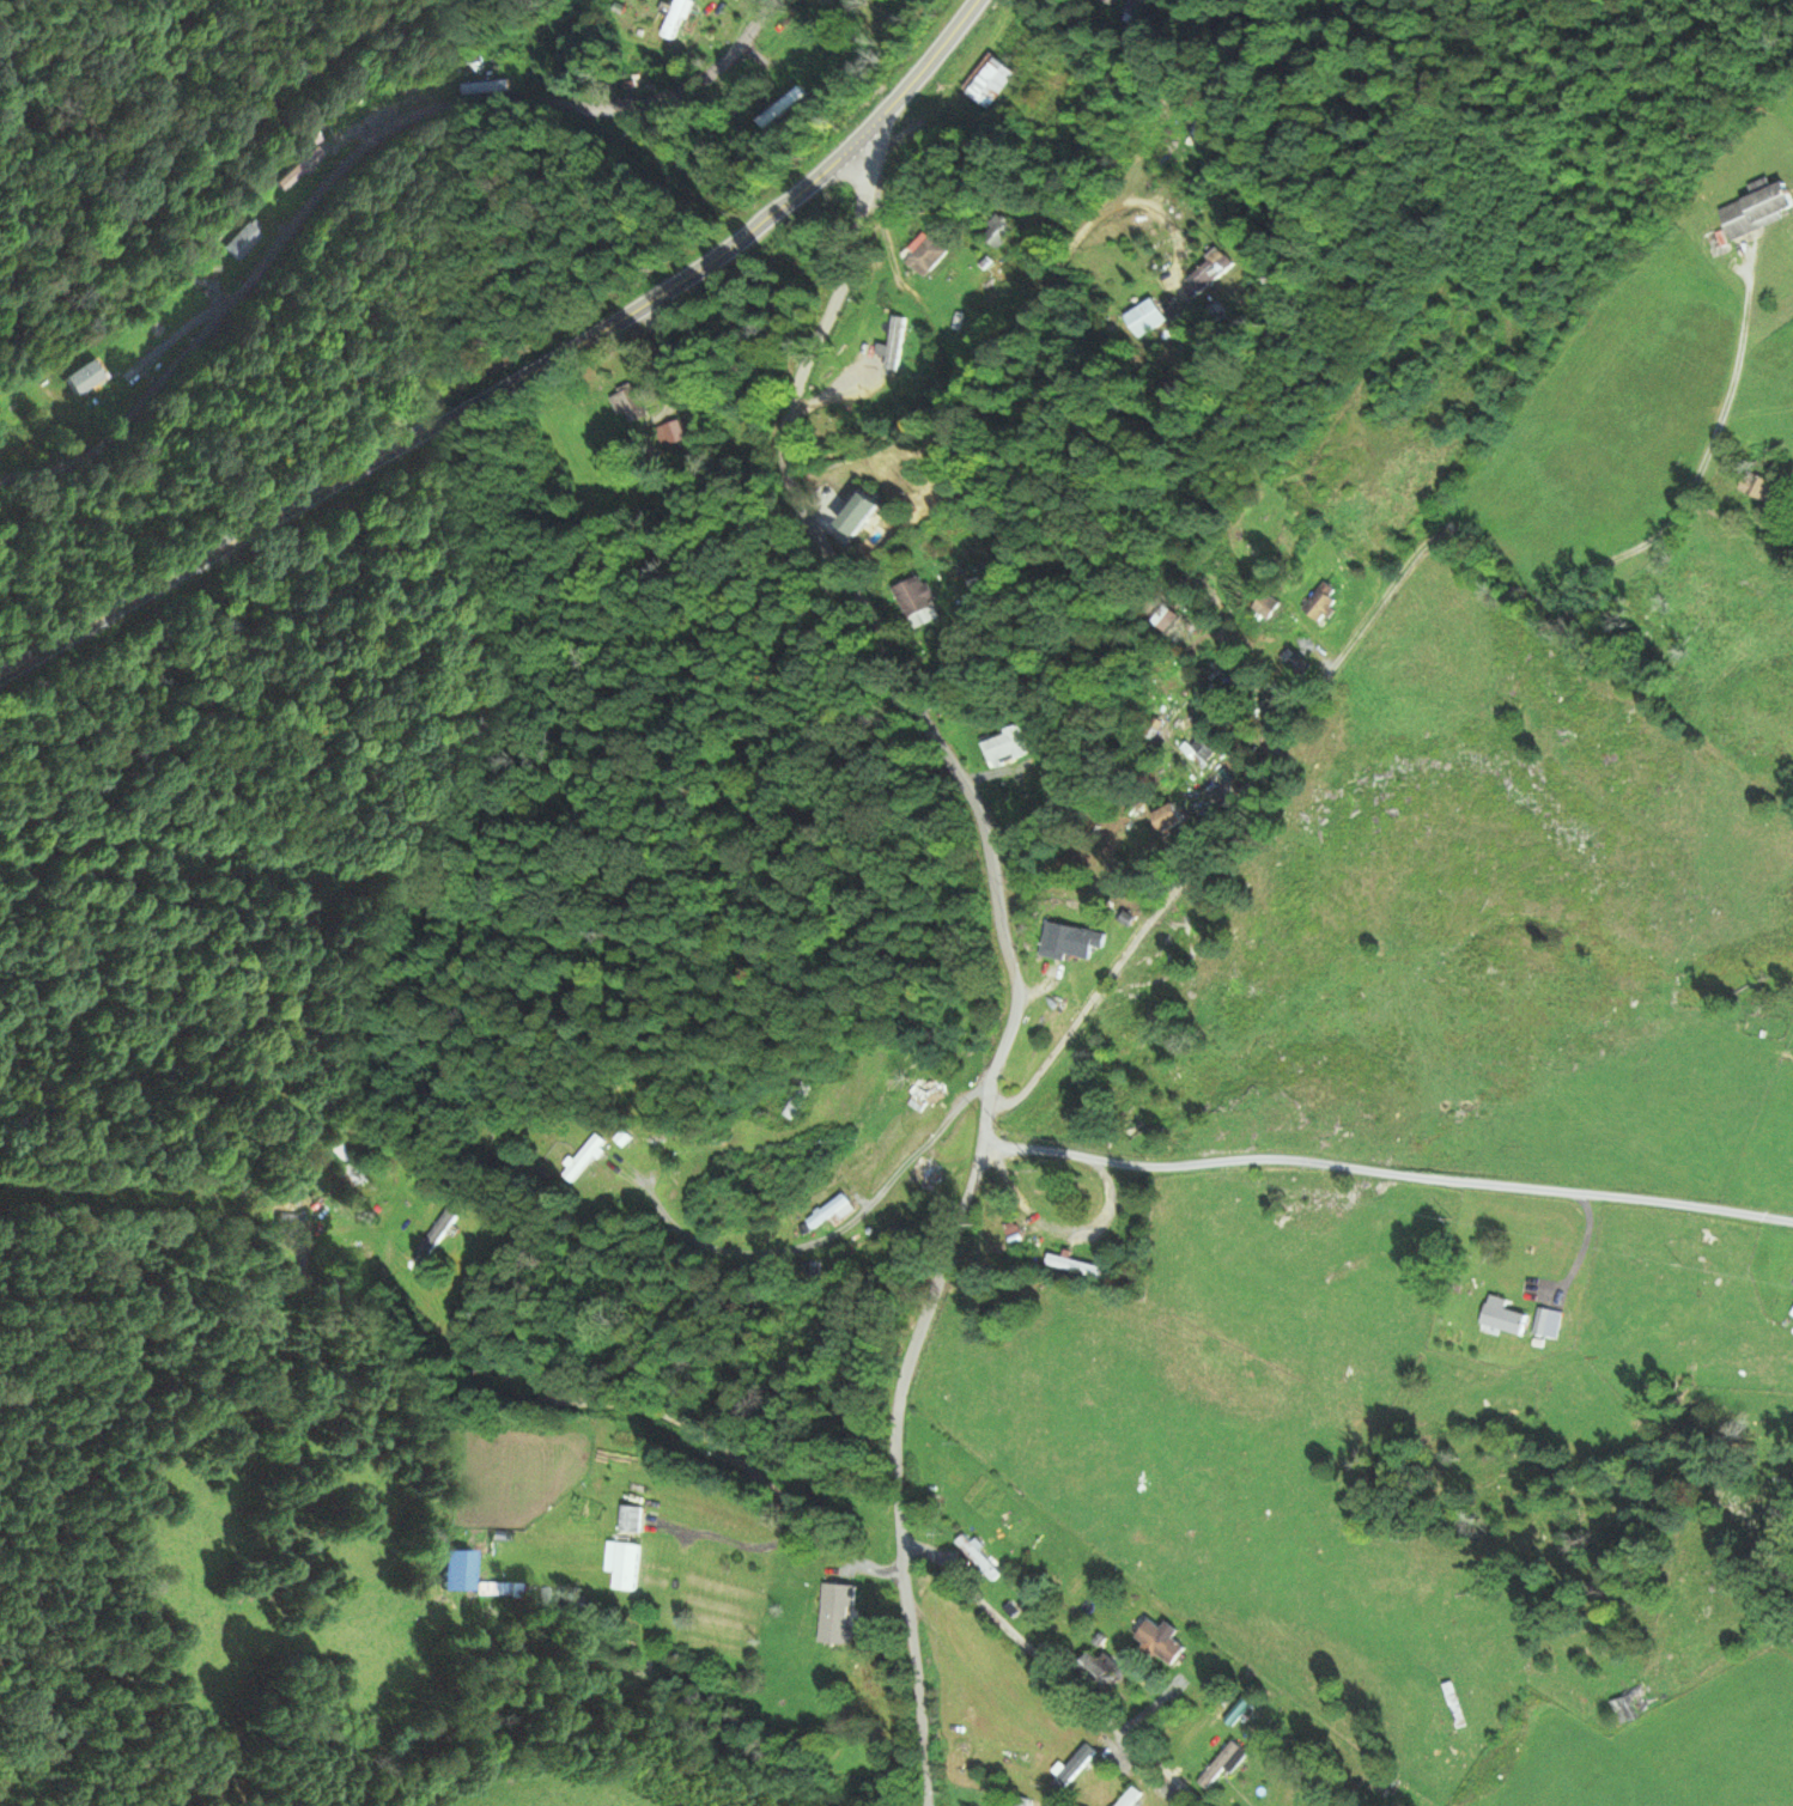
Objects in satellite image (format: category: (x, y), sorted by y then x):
building: (674, 18)
building: (986, 81)
building: (1195, 132)
road: (344, 163)
building: (1756, 211)
building: (995, 231)
building: (242, 242)
building: (923, 251)
building: (1204, 274)
building: (1141, 316)
road: (1740, 341)
road: (515, 376)
building: (81, 377)
building: (627, 407)
building: (1757, 486)
building: (861, 517)
building: (910, 592)
building: (1320, 602)
road: (1321, 677)
building: (1001, 747)
building: (1195, 750)
building: (1166, 817)
building: (1069, 941)
road: (1007, 947)
building: (916, 1097)
building: (794, 1101)
building: (582, 1159)
building: (344, 1163)
road: (1387, 1170)
building: (924, 1173)
building: (825, 1212)
building: (291, 1226)
building: (433, 1235)
road: (810, 1242)
building: (1071, 1266)
building: (1792, 1315)
building: (1500, 1317)
road: (715, 1448)
building: (627, 1520)
building: (509, 1547)
building: (975, 1559)
building: (620, 1565)
building: (492, 1593)
building: (571, 1603)
building: (835, 1615)
building: (1157, 1643)
road: (1056, 1667)
building: (1099, 1674)
building: (1631, 1702)
building: (1005, 1757)
building: (1217, 1765)
building: (1071, 1771)
building: (1128, 1799)

